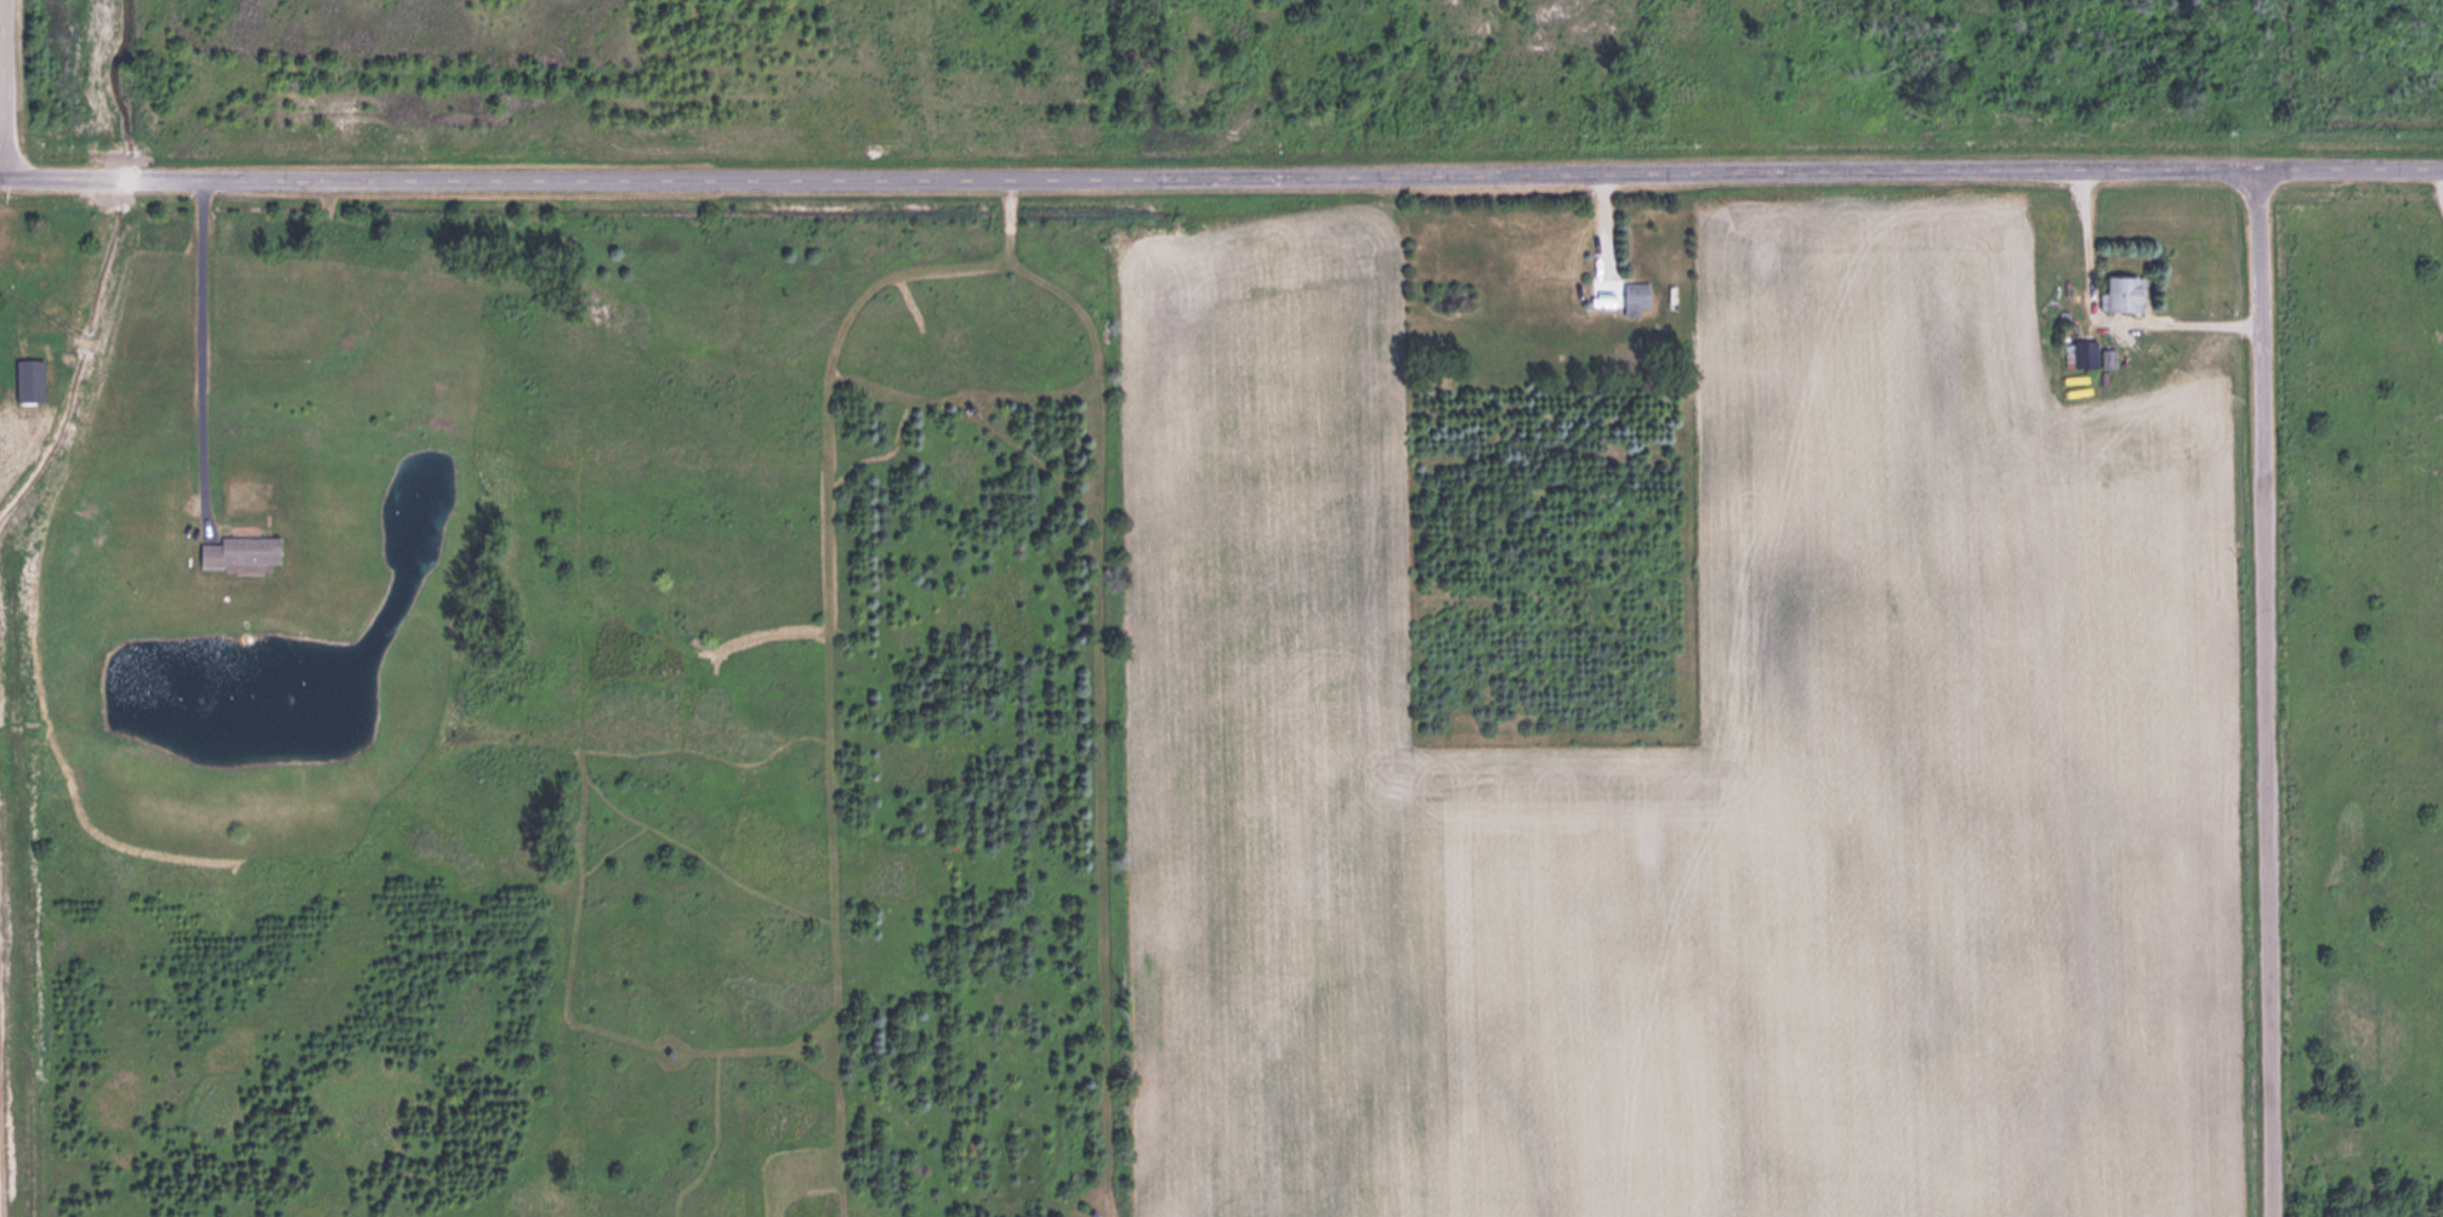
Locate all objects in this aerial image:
road: (2, 107)
road: (1221, 170)
building: (2123, 291)
building: (1635, 295)
building: (2085, 352)
building: (29, 377)
building: (242, 548)
road: (2265, 692)

